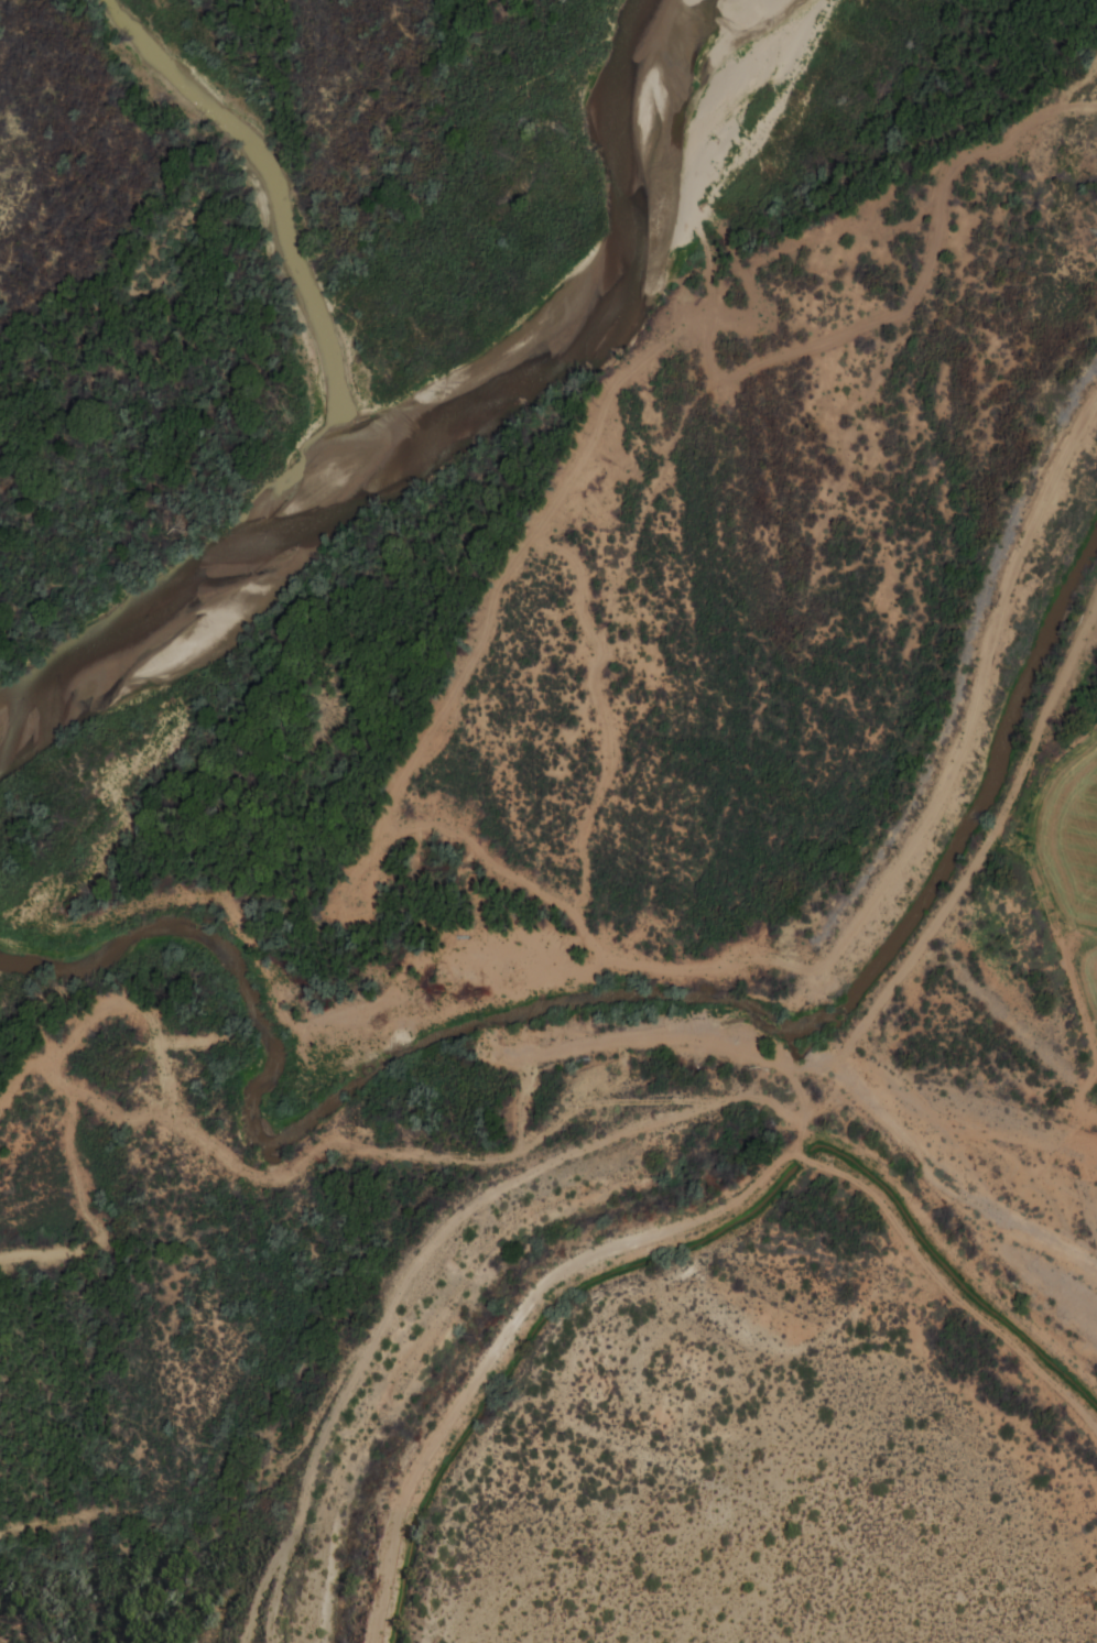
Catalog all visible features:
river: (274, 200)
road: (769, 360)
river: (424, 399)
road: (977, 699)

